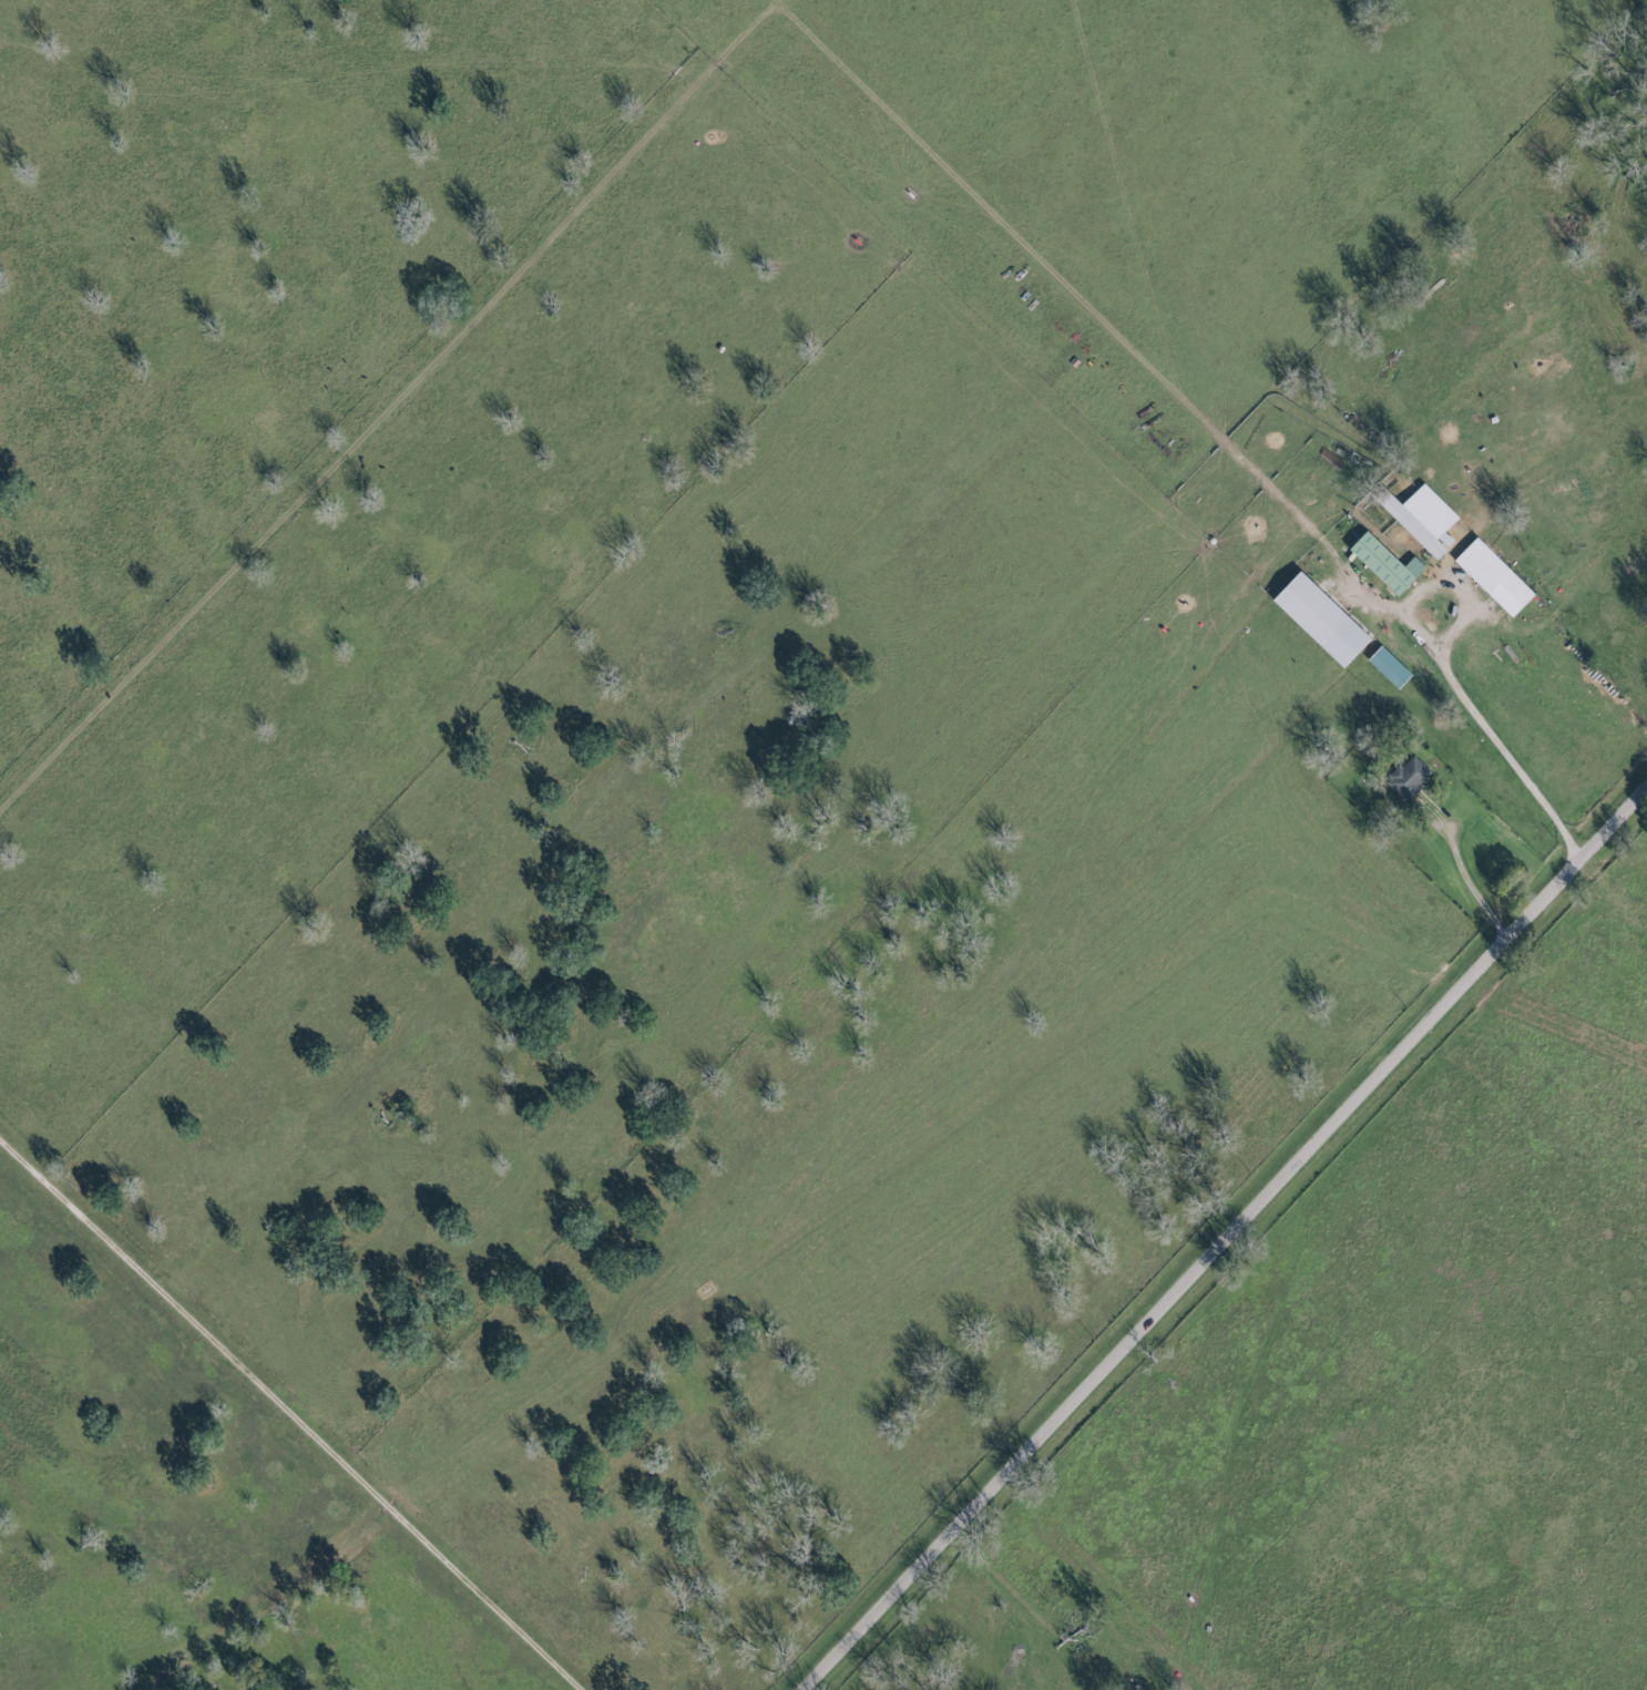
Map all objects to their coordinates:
road: (398, 407)
building: (1416, 518)
building: (1382, 564)
building: (1491, 577)
building: (1317, 619)
building: (1387, 668)
road: (1466, 697)
building: (1405, 778)
road: (1230, 1239)
road: (294, 1411)

